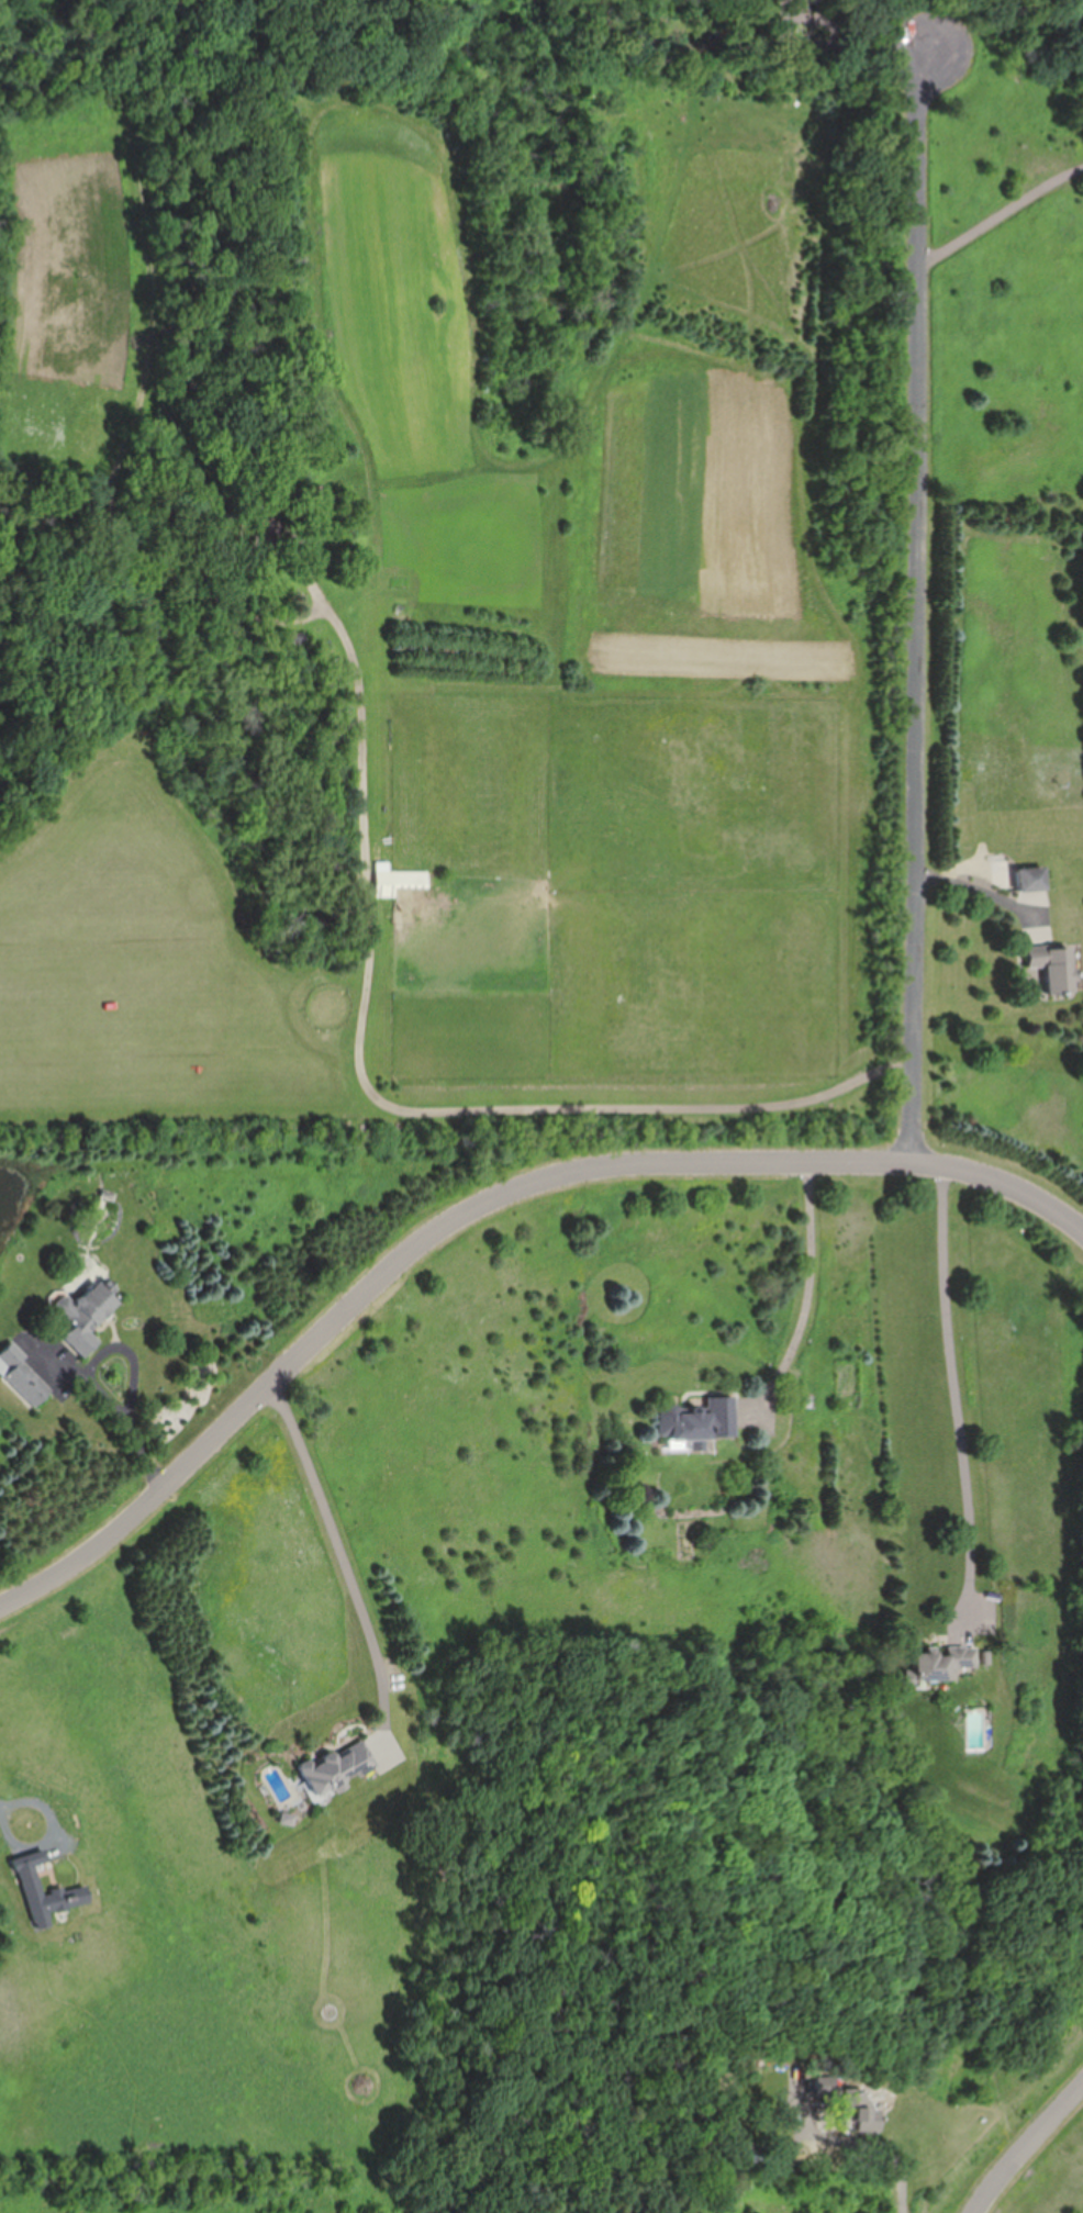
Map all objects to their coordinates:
road: (815, 45)
road: (1001, 217)
road: (922, 604)
building: (398, 882)
road: (978, 892)
building: (1054, 966)
road: (395, 1106)
road: (476, 1207)
road: (817, 1290)
building: (87, 1315)
road: (134, 1368)
building: (24, 1375)
road: (967, 1395)
building: (696, 1421)
road: (337, 1540)
building: (942, 1661)
building: (337, 1767)
road: (9, 1834)
building: (75, 1889)
building: (850, 2103)
road: (1029, 2149)
road: (892, 2156)

